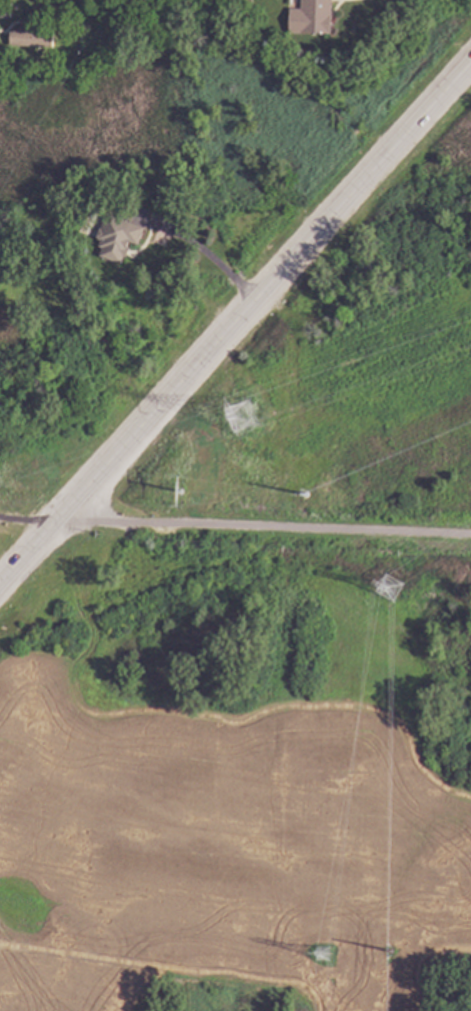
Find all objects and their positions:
building: (5, 9)
building: (312, 17)
building: (31, 34)
building: (119, 40)
building: (118, 236)
road: (203, 254)
road: (235, 320)
power tower: (241, 421)
power tower: (177, 493)
power tower: (304, 494)
road: (26, 520)
road: (262, 526)
power tower: (469, 534)
power tower: (389, 589)
power tower: (318, 959)

